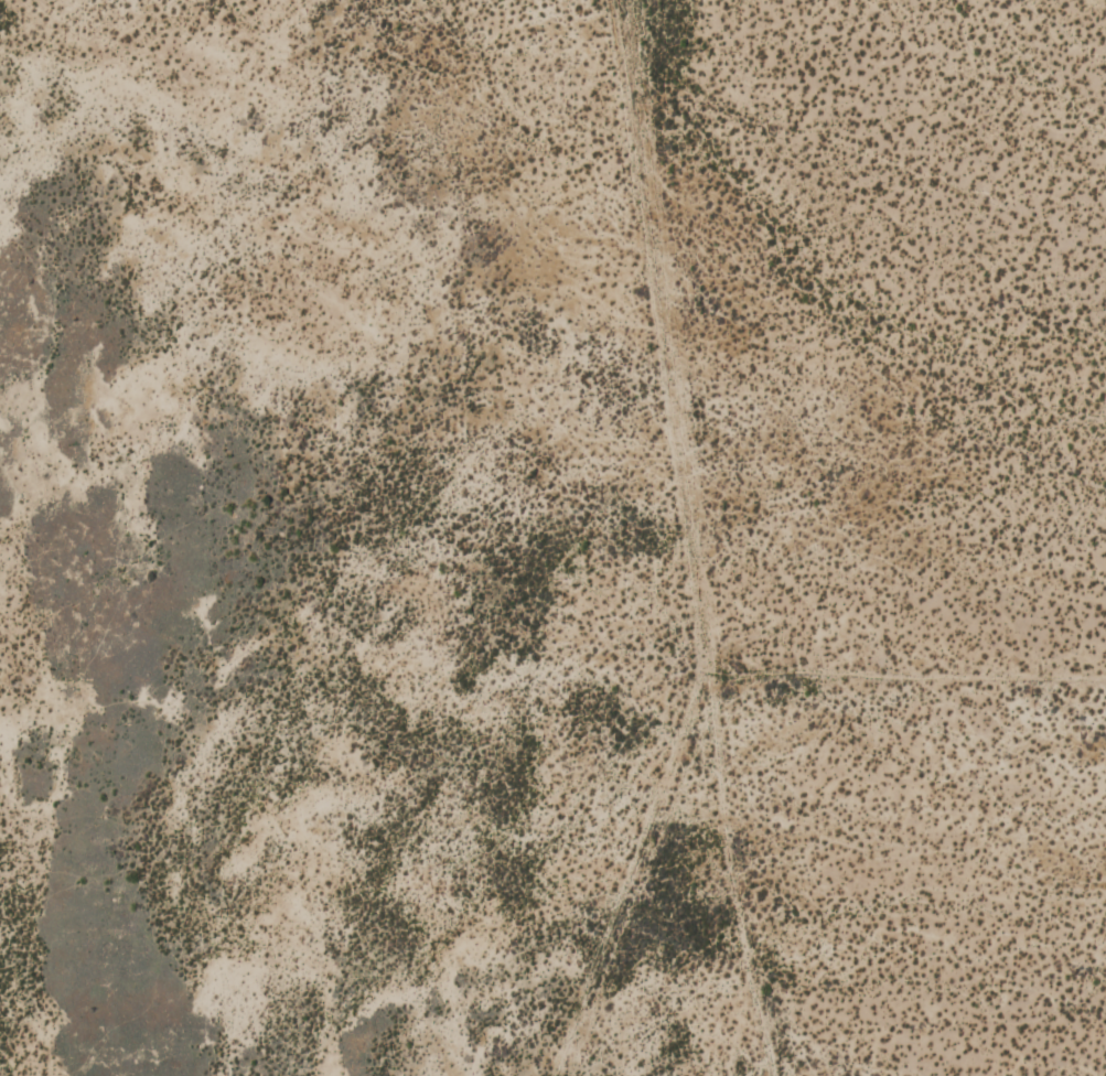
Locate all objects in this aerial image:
road: (483, 954)

